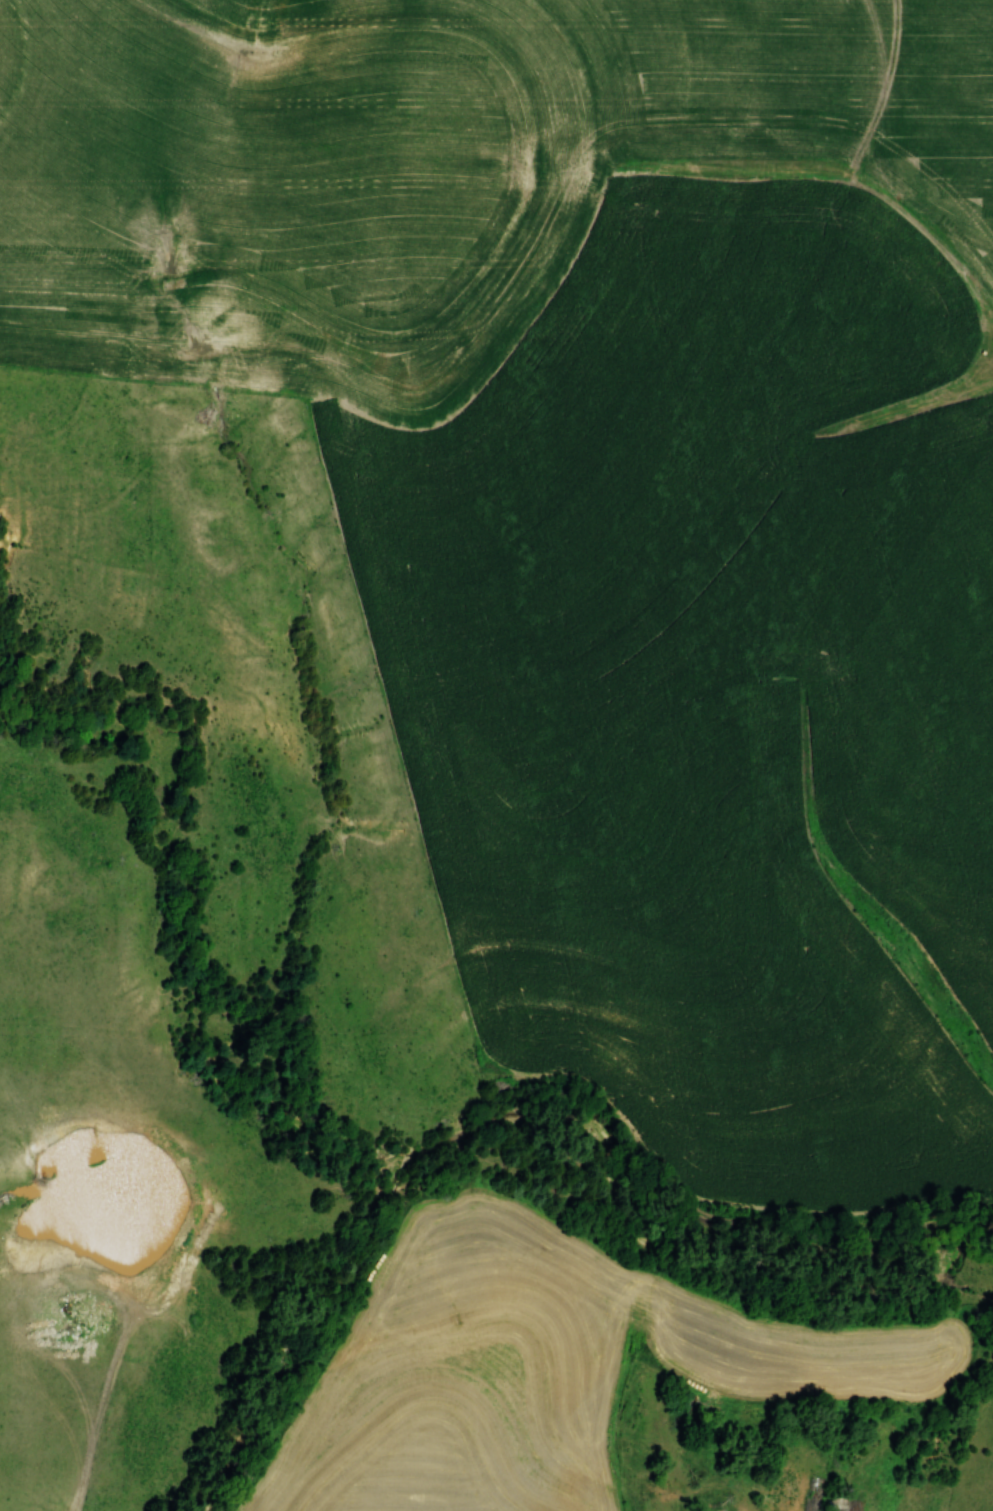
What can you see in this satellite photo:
building: (834, 1504)

